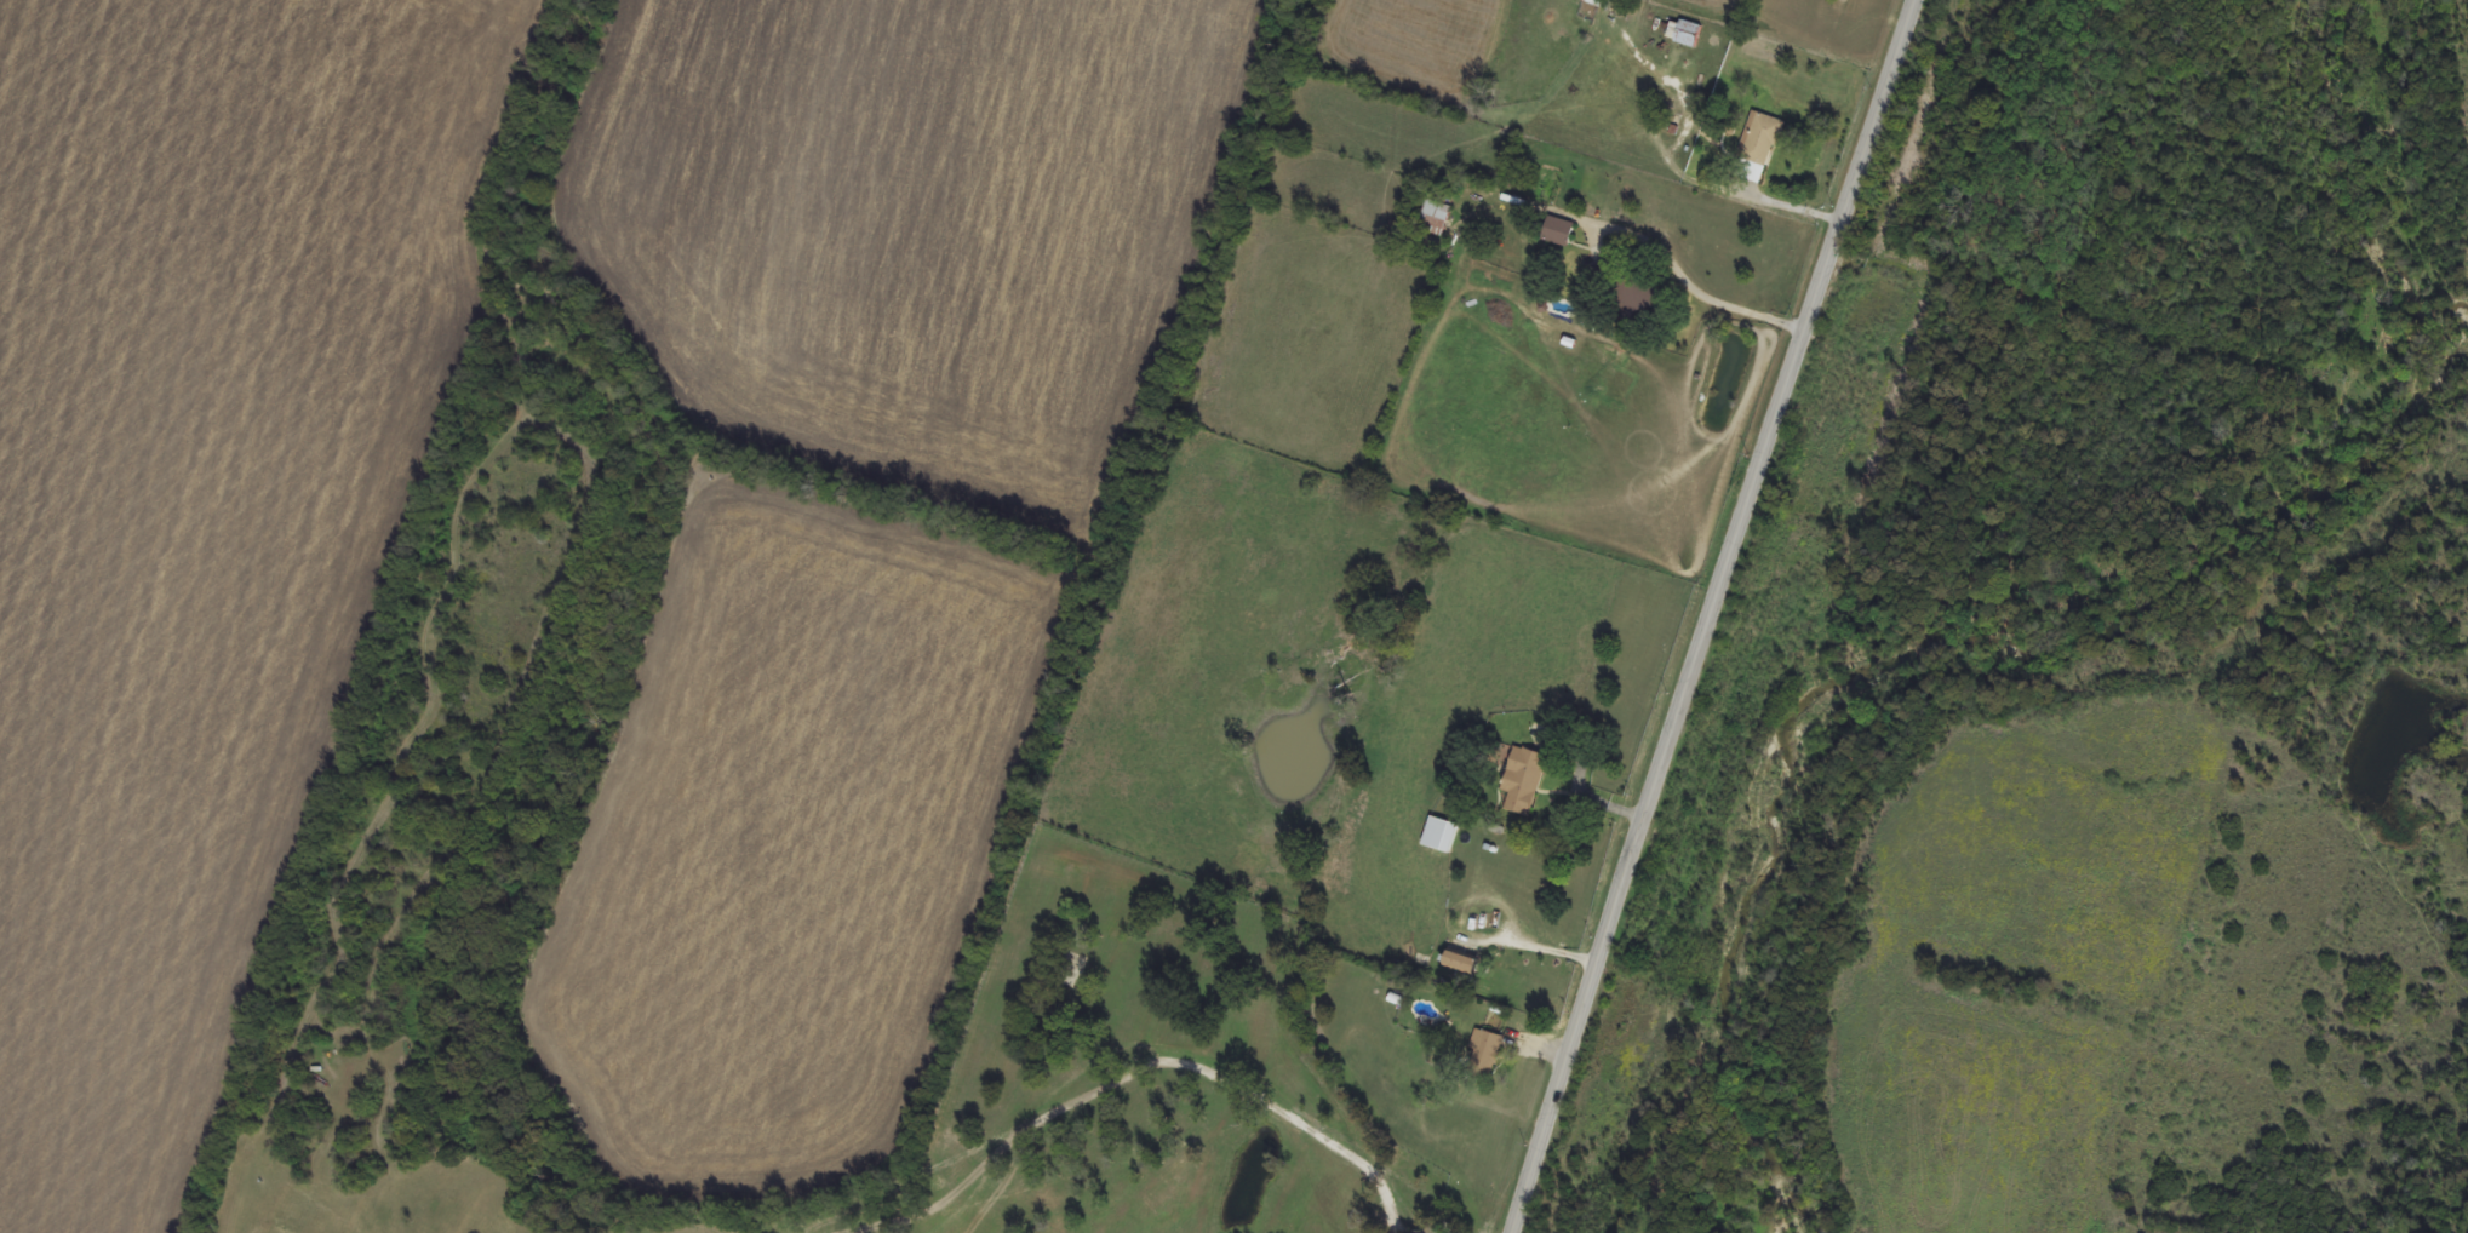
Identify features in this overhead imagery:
building: (1599, 2)
building: (1684, 33)
building: (1758, 148)
building: (1435, 219)
building: (1558, 231)
road: (1688, 287)
building: (1636, 294)
road: (1711, 615)
building: (1522, 781)
building: (1441, 835)
building: (1153, 923)
road: (1538, 948)
building: (1460, 963)
building: (1488, 1054)

